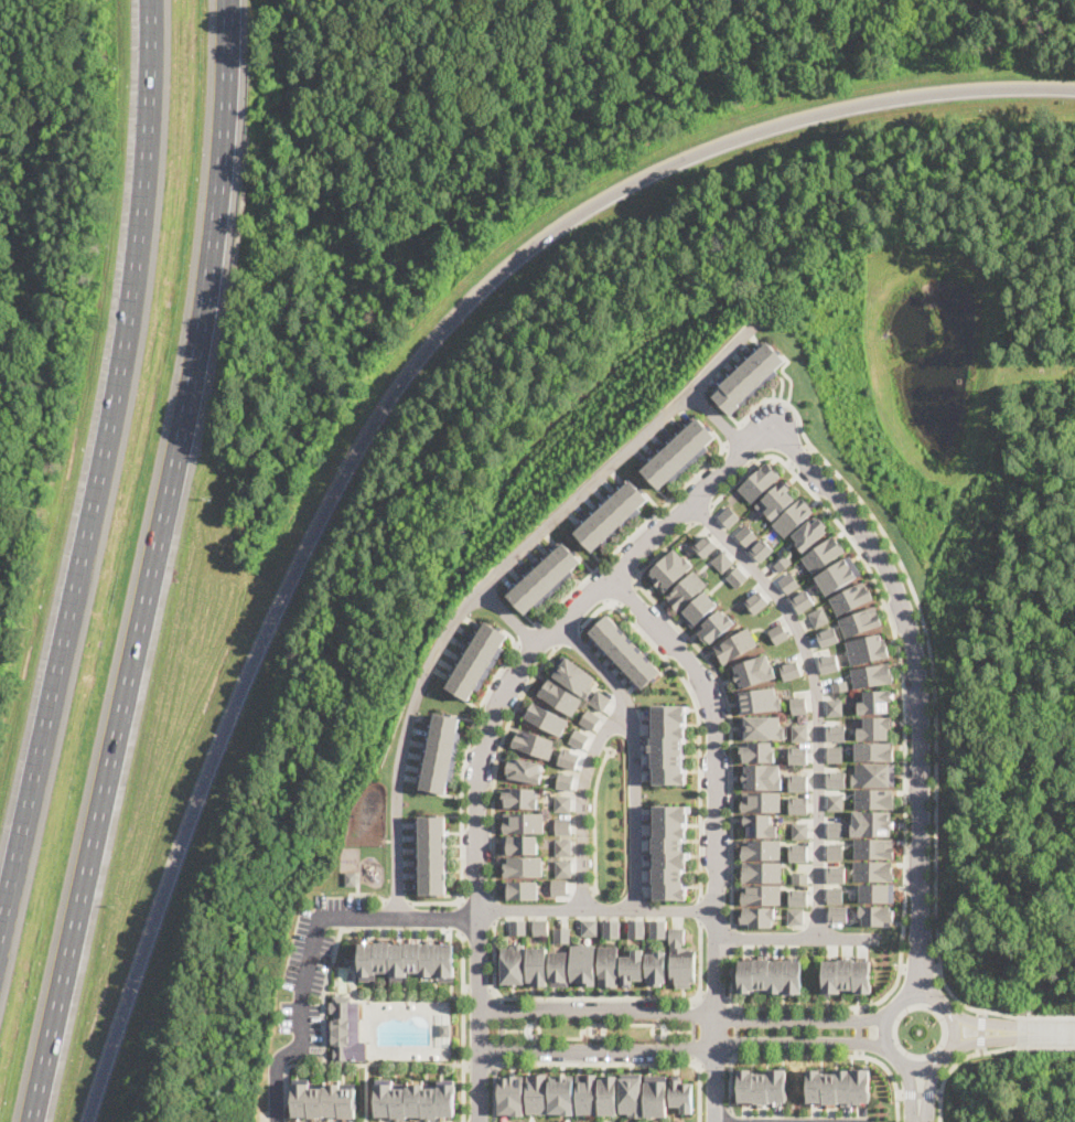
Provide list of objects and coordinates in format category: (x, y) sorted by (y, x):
building: (753, 377)
road: (390, 399)
road: (721, 419)
road: (739, 436)
road: (809, 447)
road: (741, 450)
building: (682, 453)
road: (800, 456)
road: (754, 462)
road: (792, 463)
road: (98, 471)
building: (762, 481)
building: (780, 499)
road: (703, 513)
building: (615, 516)
building: (732, 516)
building: (795, 517)
building: (811, 533)
building: (749, 535)
road: (634, 536)
building: (708, 545)
building: (764, 549)
road: (662, 552)
building: (825, 554)
building: (724, 560)
building: (785, 563)
road: (152, 564)
building: (673, 568)
building: (840, 575)
building: (738, 576)
road: (494, 578)
building: (548, 579)
building: (792, 583)
road: (627, 594)
building: (852, 597)
building: (694, 598)
building: (805, 601)
road: (619, 602)
building: (759, 602)
road: (609, 605)
building: (820, 617)
road: (512, 618)
building: (861, 621)
road: (563, 623)
building: (717, 626)
building: (780, 633)
road: (531, 637)
building: (829, 637)
road: (569, 638)
building: (737, 645)
building: (868, 649)
building: (627, 651)
building: (482, 661)
building: (830, 663)
building: (792, 670)
building: (754, 671)
building: (873, 674)
building: (576, 675)
road: (904, 681)
road: (935, 685)
building: (840, 686)
road: (921, 687)
building: (561, 697)
road: (816, 698)
building: (759, 699)
building: (601, 701)
building: (877, 702)
building: (799, 705)
building: (835, 707)
building: (547, 718)
building: (590, 719)
building: (761, 727)
building: (875, 727)
building: (799, 733)
building: (837, 733)
building: (580, 738)
road: (729, 738)
building: (535, 742)
building: (668, 744)
building: (875, 750)
building: (757, 751)
building: (443, 752)
road: (698, 752)
building: (836, 754)
road: (634, 755)
building: (798, 755)
building: (570, 758)
road: (496, 763)
building: (527, 770)
building: (873, 773)
building: (762, 776)
building: (836, 779)
building: (566, 781)
building: (797, 782)
road: (462, 789)
building: (522, 798)
building: (874, 799)
building: (760, 801)
building: (835, 801)
road: (580, 802)
building: (563, 803)
building: (798, 805)
road: (593, 819)
park: (609, 822)
building: (524, 823)
building: (872, 823)
building: (759, 825)
building: (563, 826)
building: (835, 829)
building: (799, 831)
road: (713, 832)
building: (520, 844)
building: (563, 847)
building: (874, 847)
building: (761, 849)
building: (668, 851)
building: (835, 852)
building: (798, 853)
building: (434, 855)
building: (524, 866)
building: (562, 868)
building: (874, 870)
building: (760, 872)
building: (836, 874)
building: (352, 878)
building: (799, 878)
building: (558, 887)
building: (520, 889)
building: (878, 891)
road: (369, 894)
building: (760, 894)
building: (835, 895)
building: (798, 897)
road: (461, 900)
road: (399, 901)
road: (493, 909)
road: (593, 909)
road: (698, 911)
building: (839, 913)
building: (877, 915)
building: (756, 916)
building: (795, 916)
road: (419, 919)
road: (461, 919)
building: (517, 927)
building: (539, 927)
building: (588, 927)
building: (610, 928)
building: (635, 928)
building: (657, 928)
building: (560, 934)
road: (729, 939)
road: (794, 939)
building: (406, 960)
building: (679, 960)
building: (510, 964)
building: (580, 964)
parking lot: (314, 966)
building: (535, 966)
building: (605, 966)
building: (630, 966)
building: (557, 968)
building: (654, 968)
road: (916, 968)
road: (937, 969)
building: (770, 975)
building: (846, 975)
road: (324, 989)
road: (465, 989)
road: (476, 989)
road: (488, 989)
road: (358, 994)
road: (698, 994)
road: (593, 997)
road: (497, 998)
road: (712, 1000)
road: (727, 1000)
road: (901, 1000)
road: (479, 1003)
road: (300, 1006)
road: (768, 1007)
road: (691, 1009)
road: (498, 1012)
road: (681, 1012)
road: (1046, 1017)
road: (533, 1022)
road: (656, 1022)
road: (981, 1023)
road: (626, 1024)
road: (600, 1025)
road: (462, 1026)
road: (535, 1026)
road: (652, 1026)
building: (345, 1029)
building: (443, 1029)
road: (690, 1029)
road: (513, 1030)
park: (589, 1030)
fountain: (595, 1030)
road: (676, 1030)
road: (735, 1030)
road: (858, 1030)
road: (982, 1030)
road: (1046, 1032)
road: (563, 1038)
road: (534, 1039)
road: (656, 1040)
road: (498, 1041)
road: (1047, 1046)
road: (685, 1048)
road: (690, 1051)
road: (946, 1052)
road: (789, 1055)
road: (970, 1055)
road: (712, 1059)
road: (727, 1059)
road: (599, 1062)
road: (336, 1064)
road: (699, 1065)
road: (465, 1066)
road: (477, 1066)
road: (491, 1067)
road: (886, 1068)
road: (910, 1083)
building: (763, 1084)
building: (839, 1084)
road: (729, 1089)
road: (364, 1092)
building: (535, 1092)
building: (584, 1093)
building: (628, 1093)
building: (509, 1094)
building: (558, 1094)
building: (605, 1094)
building: (680, 1094)
road: (920, 1094)
building: (654, 1096)
road: (492, 1098)
building: (323, 1099)
building: (413, 1099)
road: (698, 1102)
road: (942, 1108)
road: (896, 1110)
road: (729, 1116)
road: (918, 1121)

